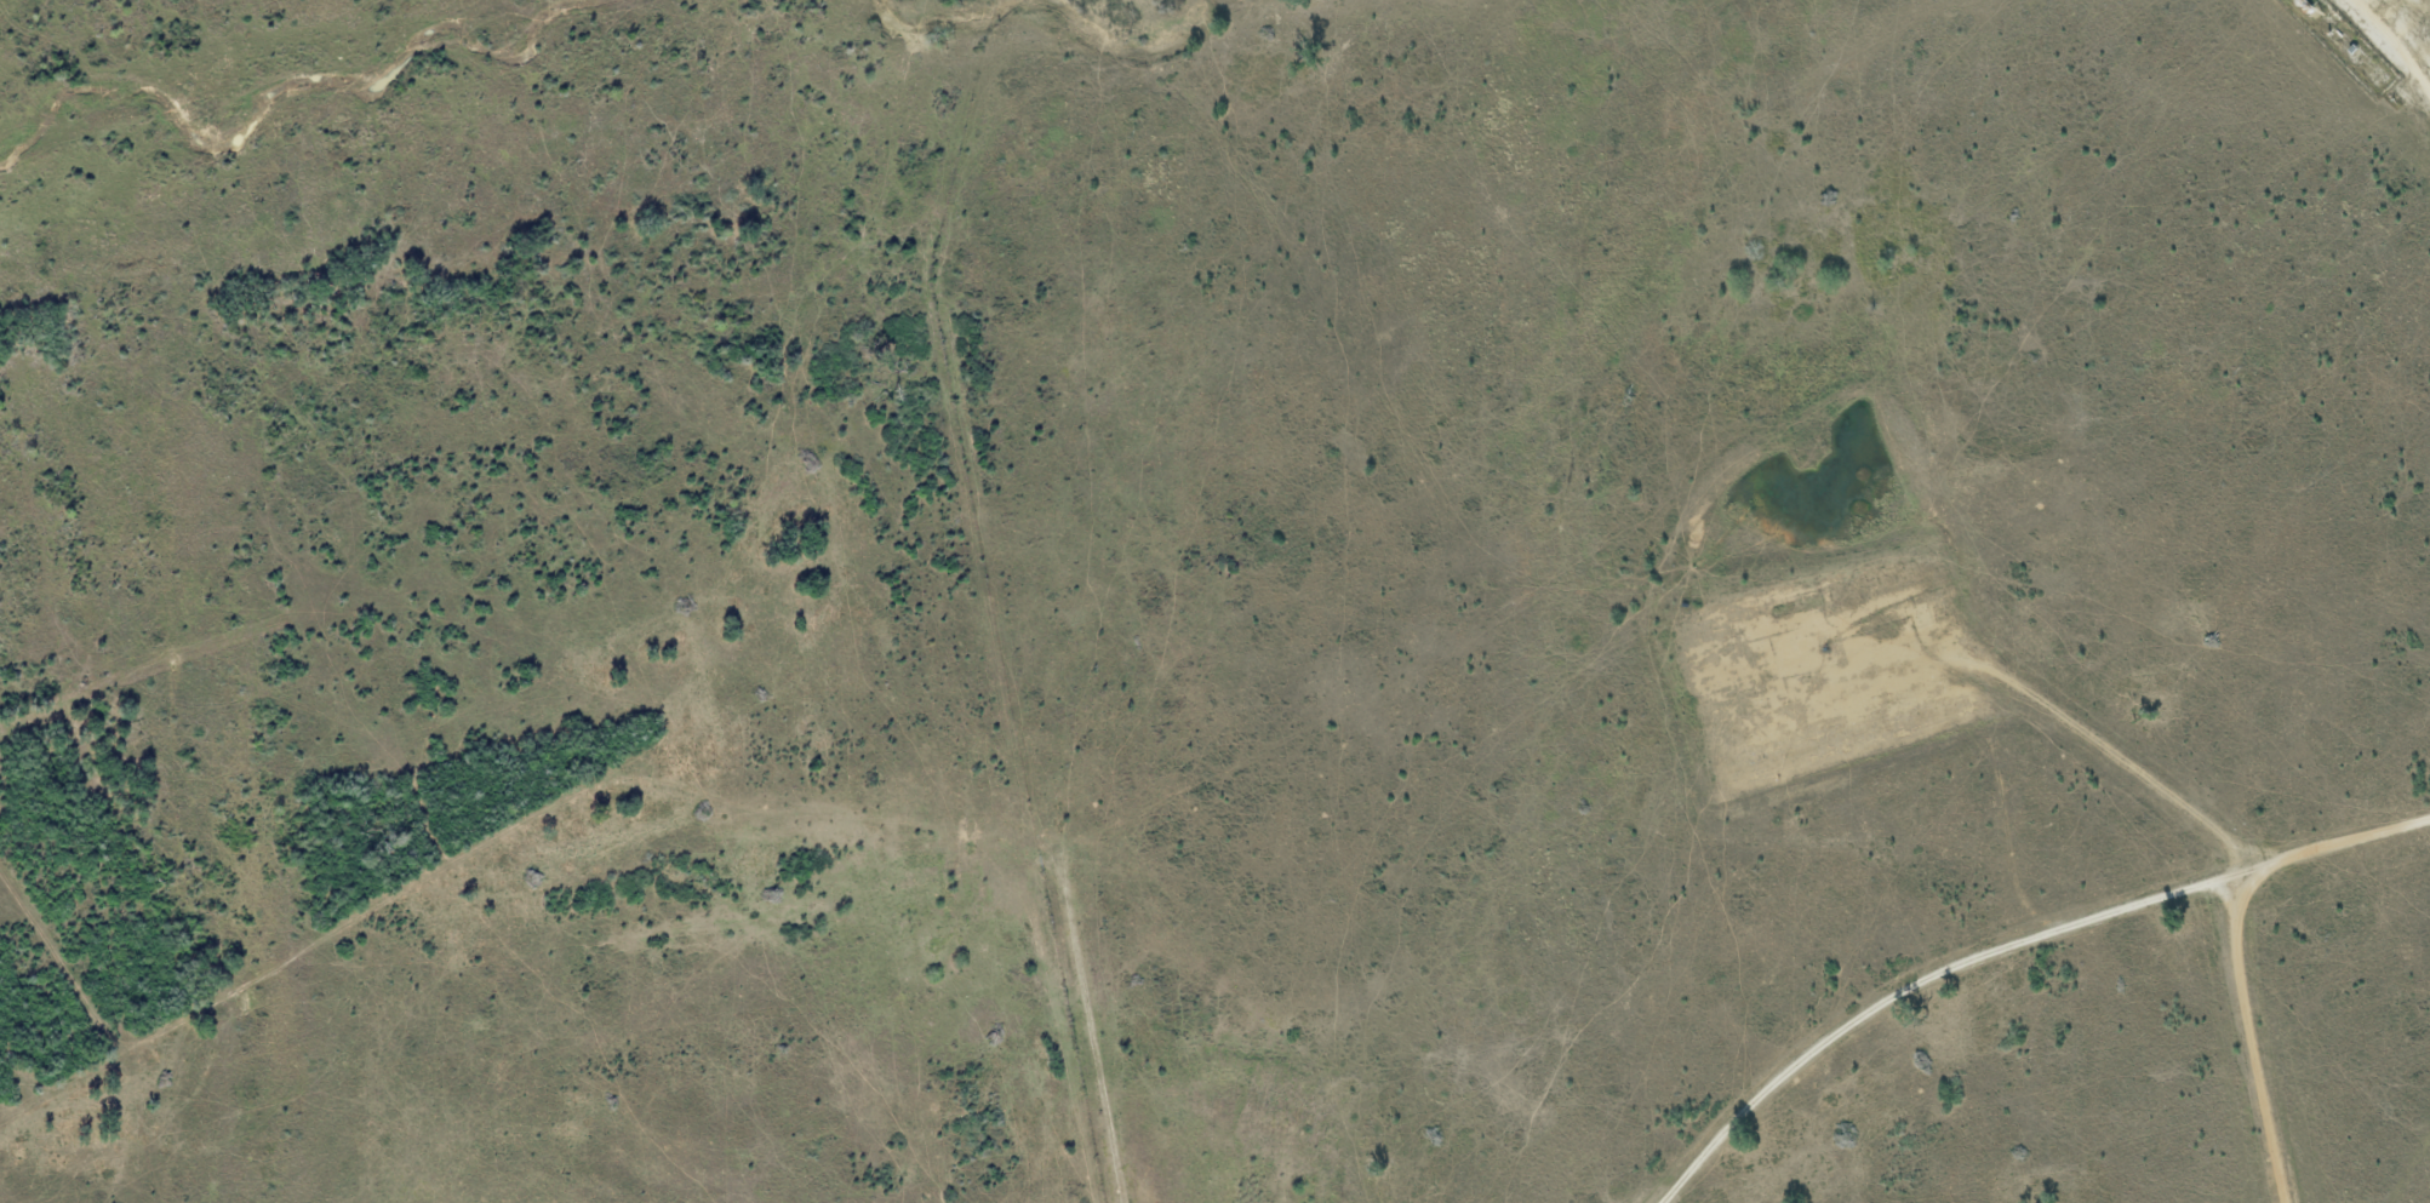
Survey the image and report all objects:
road: (2024, 943)

